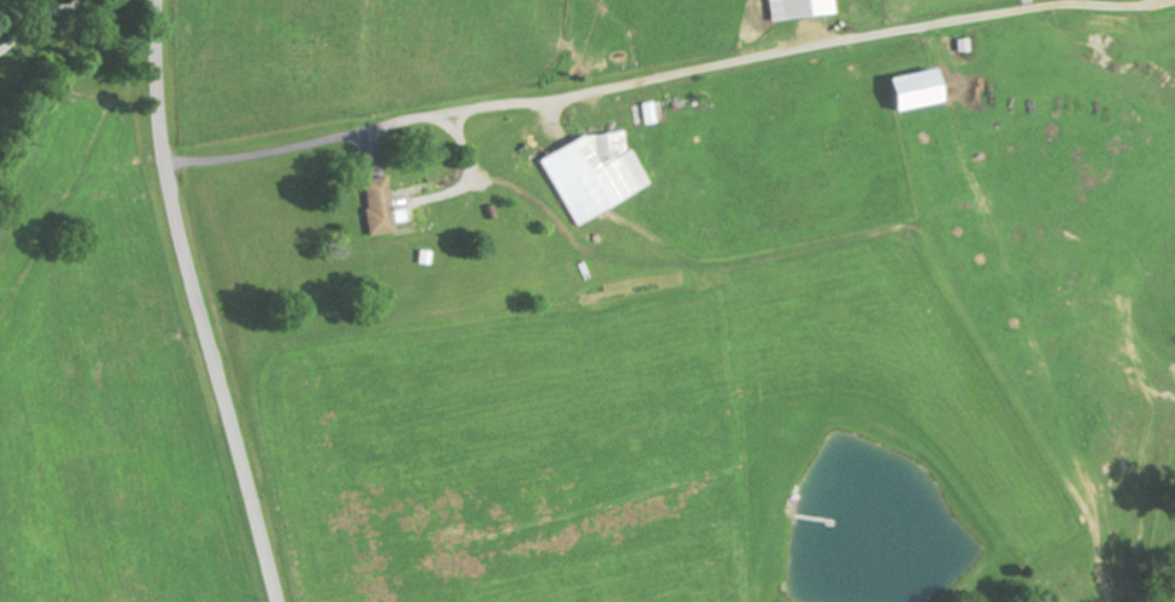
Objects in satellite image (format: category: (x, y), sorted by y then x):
building: (796, 7)
building: (907, 87)
building: (591, 172)
building: (375, 205)
road: (198, 303)
road: (95, 496)

